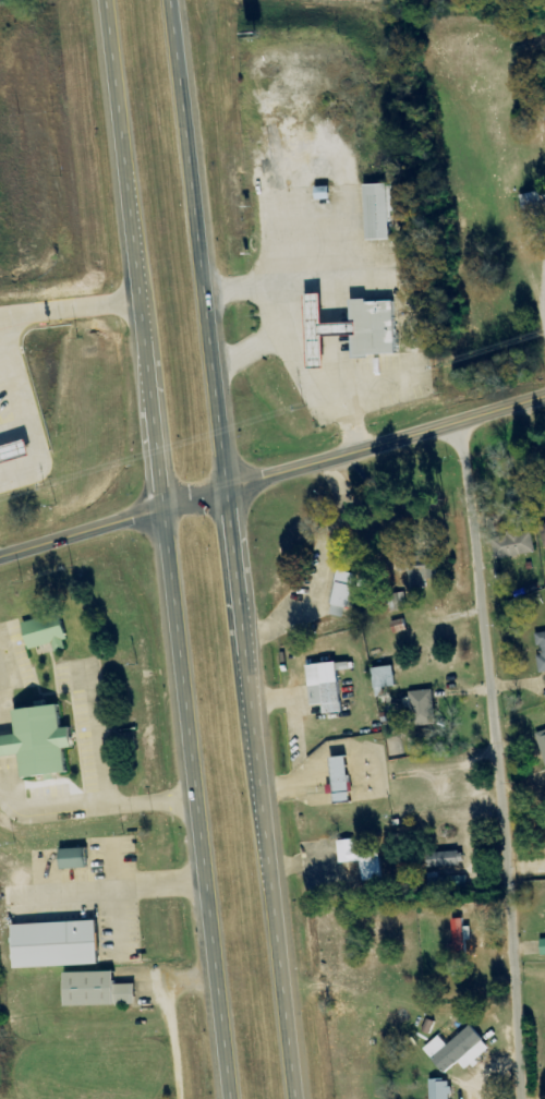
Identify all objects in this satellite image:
building: (373, 213)
road: (209, 244)
road: (142, 253)
building: (348, 329)
road: (390, 439)
building: (17, 454)
road: (118, 522)
building: (543, 532)
building: (516, 544)
building: (419, 570)
building: (343, 593)
building: (49, 632)
building: (541, 651)
building: (387, 677)
building: (328, 687)
building: (423, 709)
building: (543, 740)
building: (41, 742)
road: (492, 758)
building: (344, 780)
road: (268, 794)
road: (202, 804)
building: (75, 859)
building: (364, 859)
building: (448, 859)
building: (460, 942)
building: (61, 945)
building: (544, 946)
building: (102, 990)
building: (464, 1051)
building: (441, 1089)

